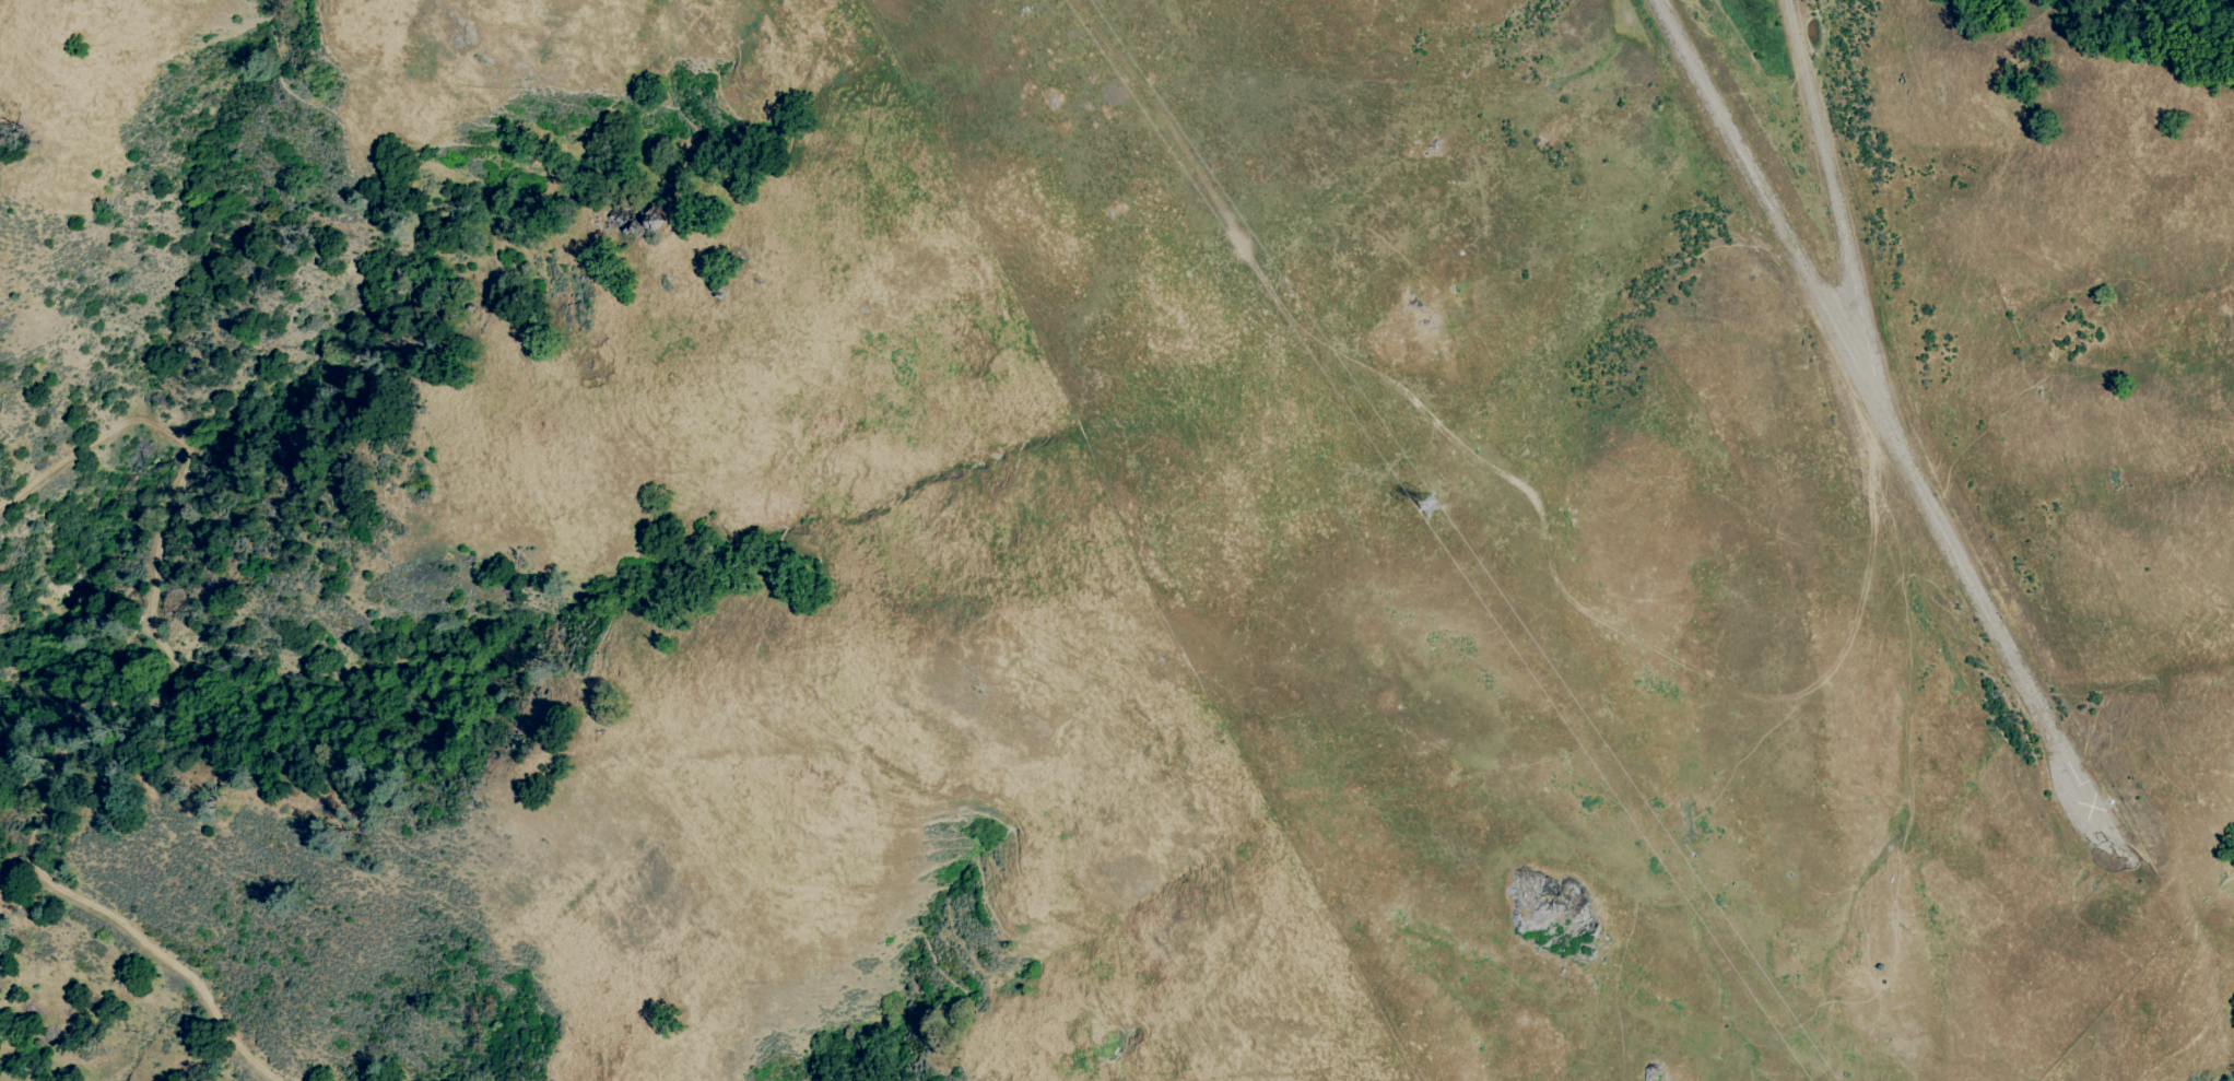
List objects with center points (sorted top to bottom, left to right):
airport taxiway: (1836, 190)
airport runway: (1892, 433)
road: (1507, 482)
power tower: (1437, 508)

